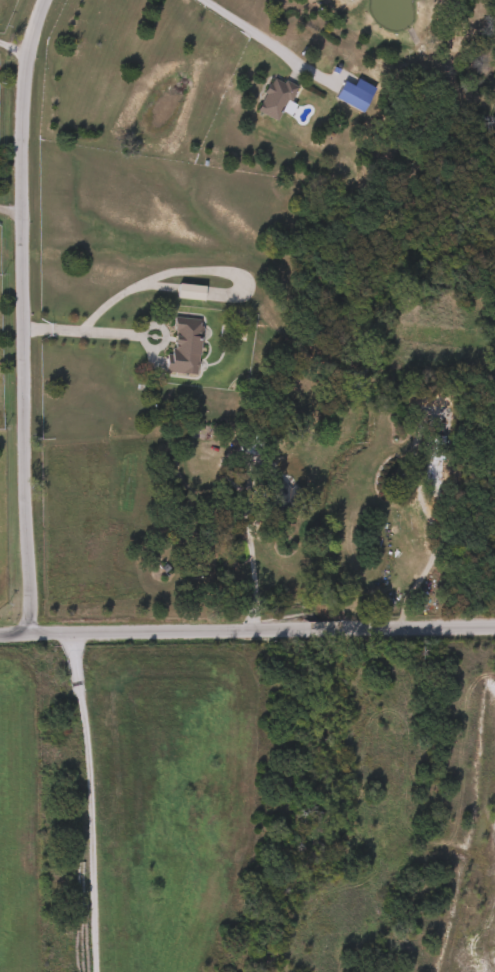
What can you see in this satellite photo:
road: (29, 26)
road: (250, 33)
road: (11, 48)
building: (350, 95)
building: (273, 98)
road: (9, 213)
road: (207, 271)
building: (188, 291)
road: (79, 332)
road: (139, 335)
road: (20, 344)
building: (182, 345)
road: (248, 566)
road: (247, 640)
road: (92, 803)

